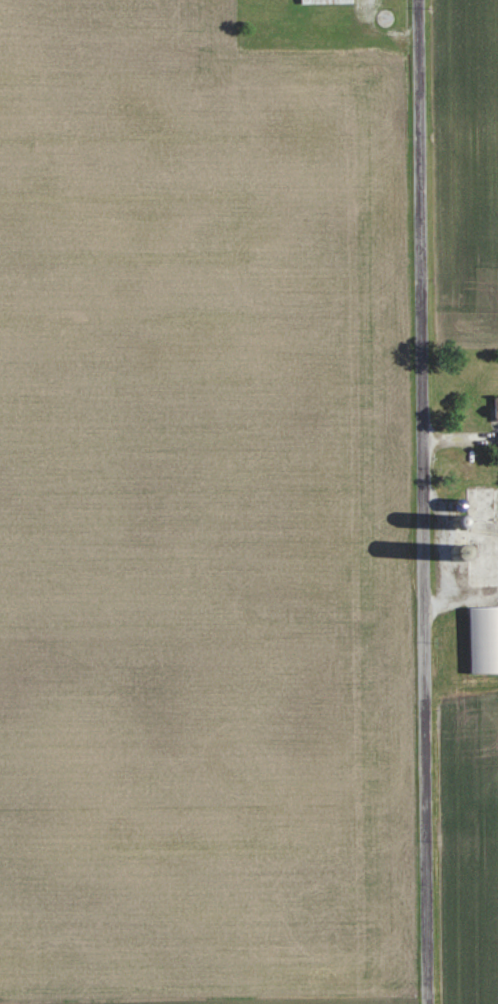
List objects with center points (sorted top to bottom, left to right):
building: (326, 2)
building: (495, 409)
road: (421, 502)
building: (483, 640)

